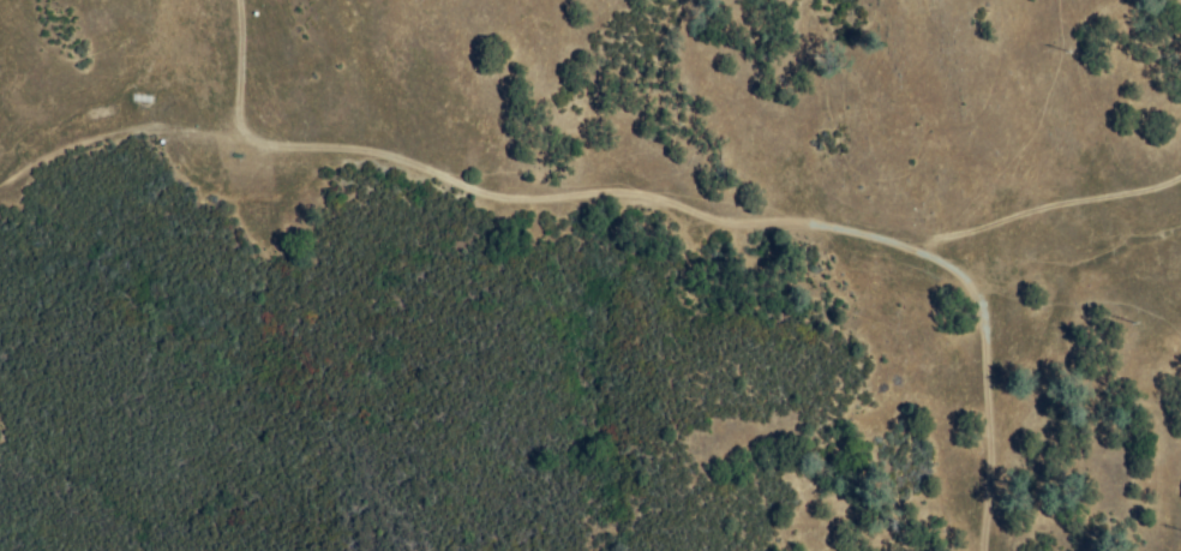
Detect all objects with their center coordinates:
road: (623, 206)

